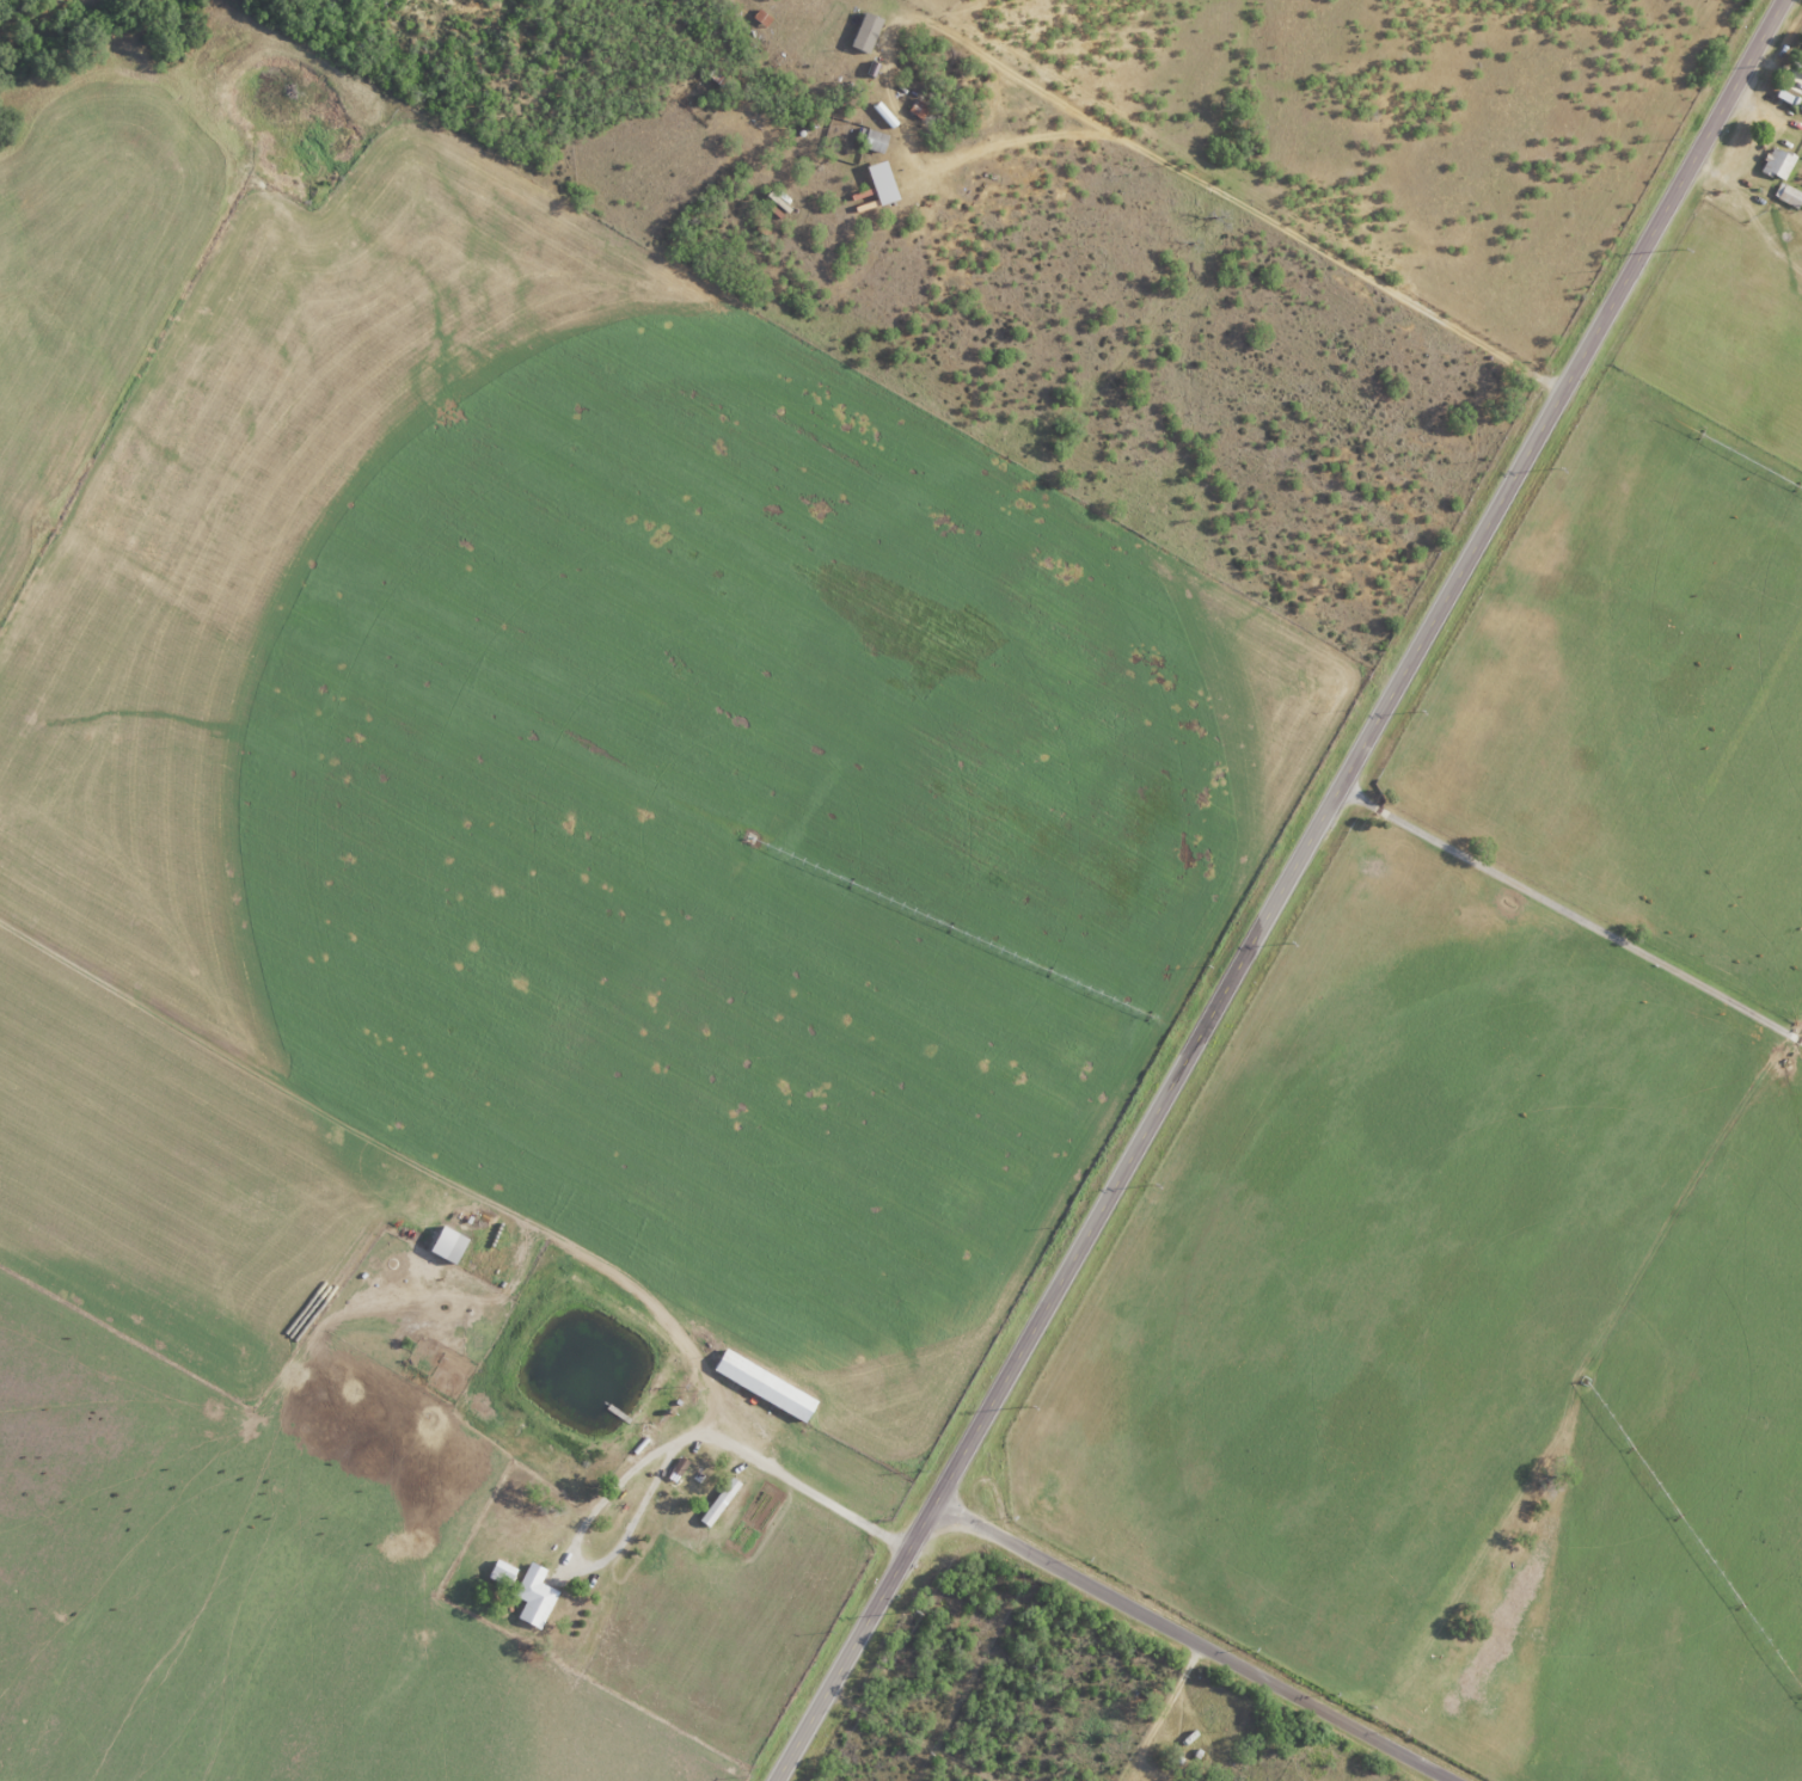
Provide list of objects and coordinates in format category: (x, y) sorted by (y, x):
building: (869, 33)
power tower: (1783, 66)
building: (1800, 68)
road: (1081, 116)
building: (875, 142)
building: (1776, 165)
building: (884, 184)
building: (1786, 195)
road: (668, 203)
power tower: (1679, 251)
road: (964, 465)
power tower: (1556, 468)
power tower: (1420, 711)
road: (1281, 891)
road: (1570, 915)
power tower: (1289, 942)
power tower: (1157, 1181)
building: (452, 1246)
building: (767, 1386)
power tower: (1026, 1408)
road: (637, 1463)
building: (721, 1501)
building: (504, 1573)
building: (537, 1596)
power tower: (909, 1611)
road: (1188, 1642)

